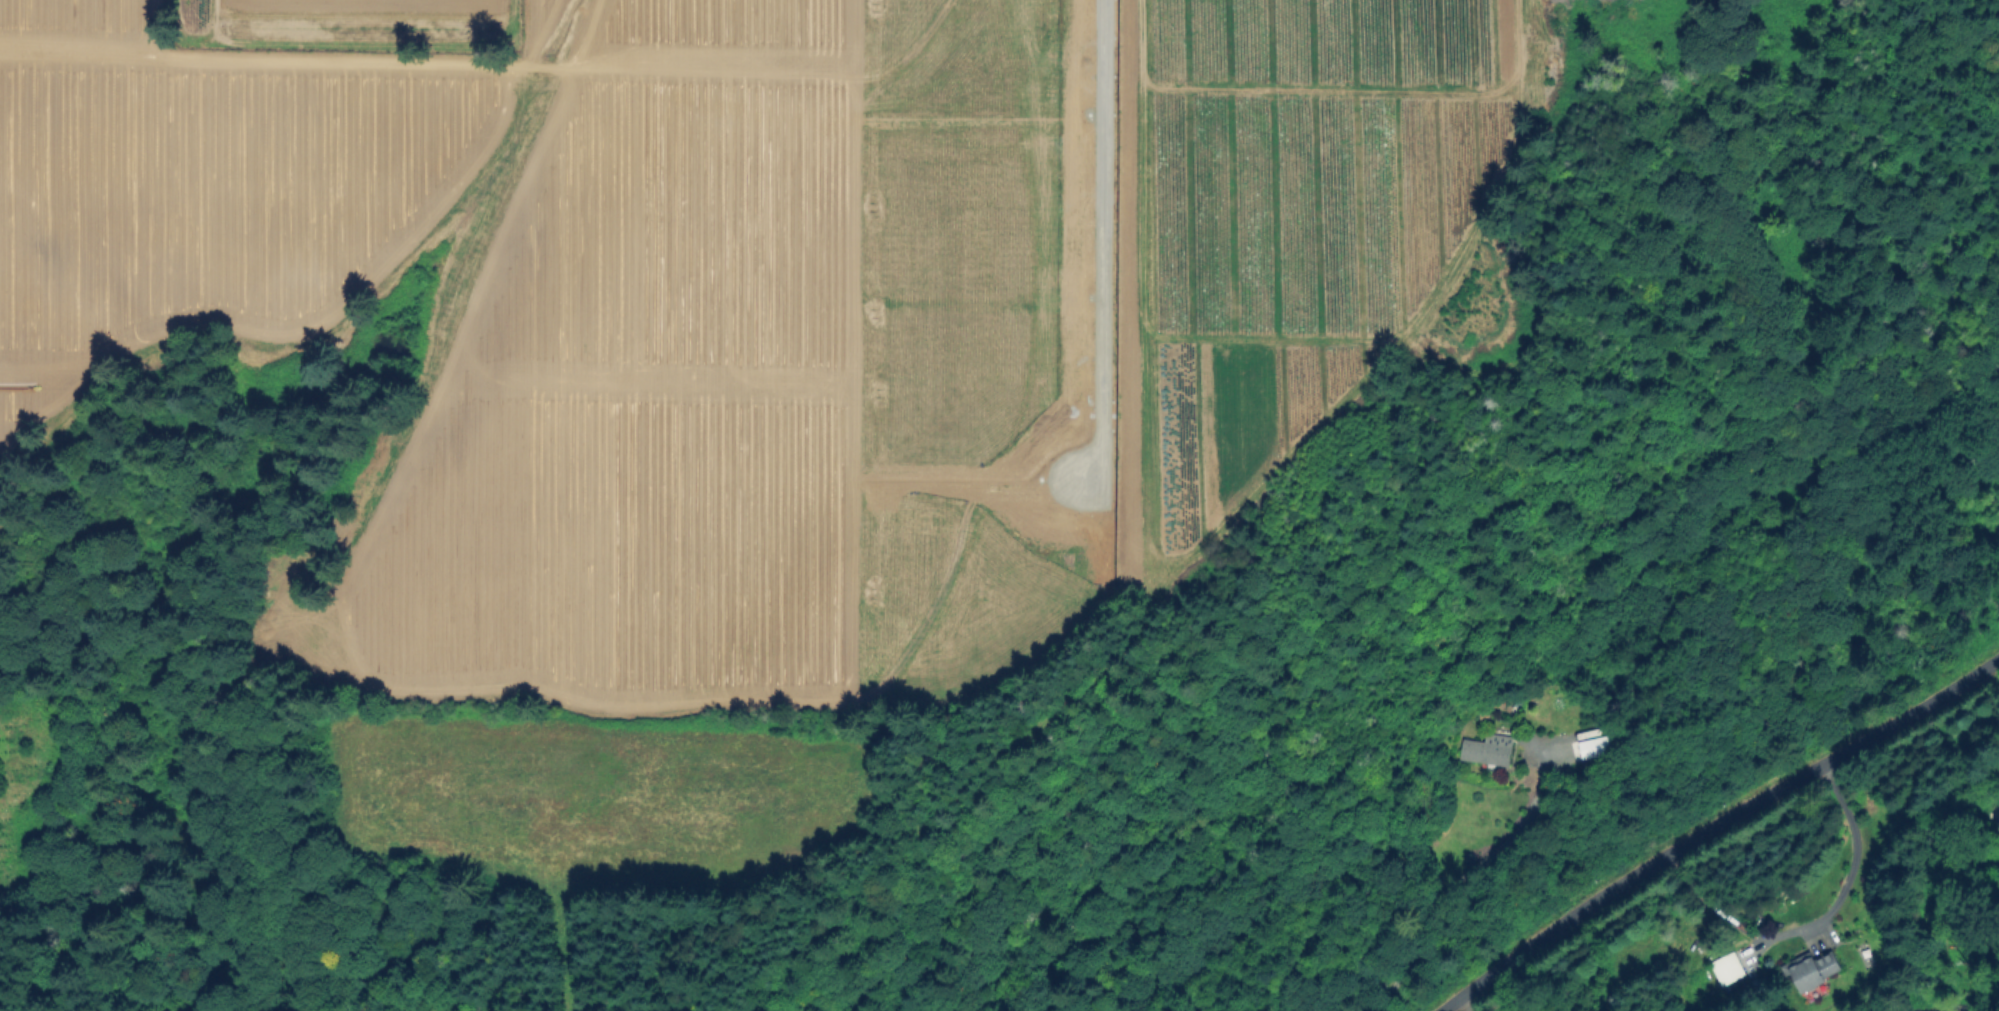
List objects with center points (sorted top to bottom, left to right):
road: (1097, 245)
building: (993, 562)
building: (1595, 749)
building: (1490, 751)
road: (1714, 825)
road: (1853, 848)
building: (1699, 967)
building: (1730, 969)
building: (1812, 970)

